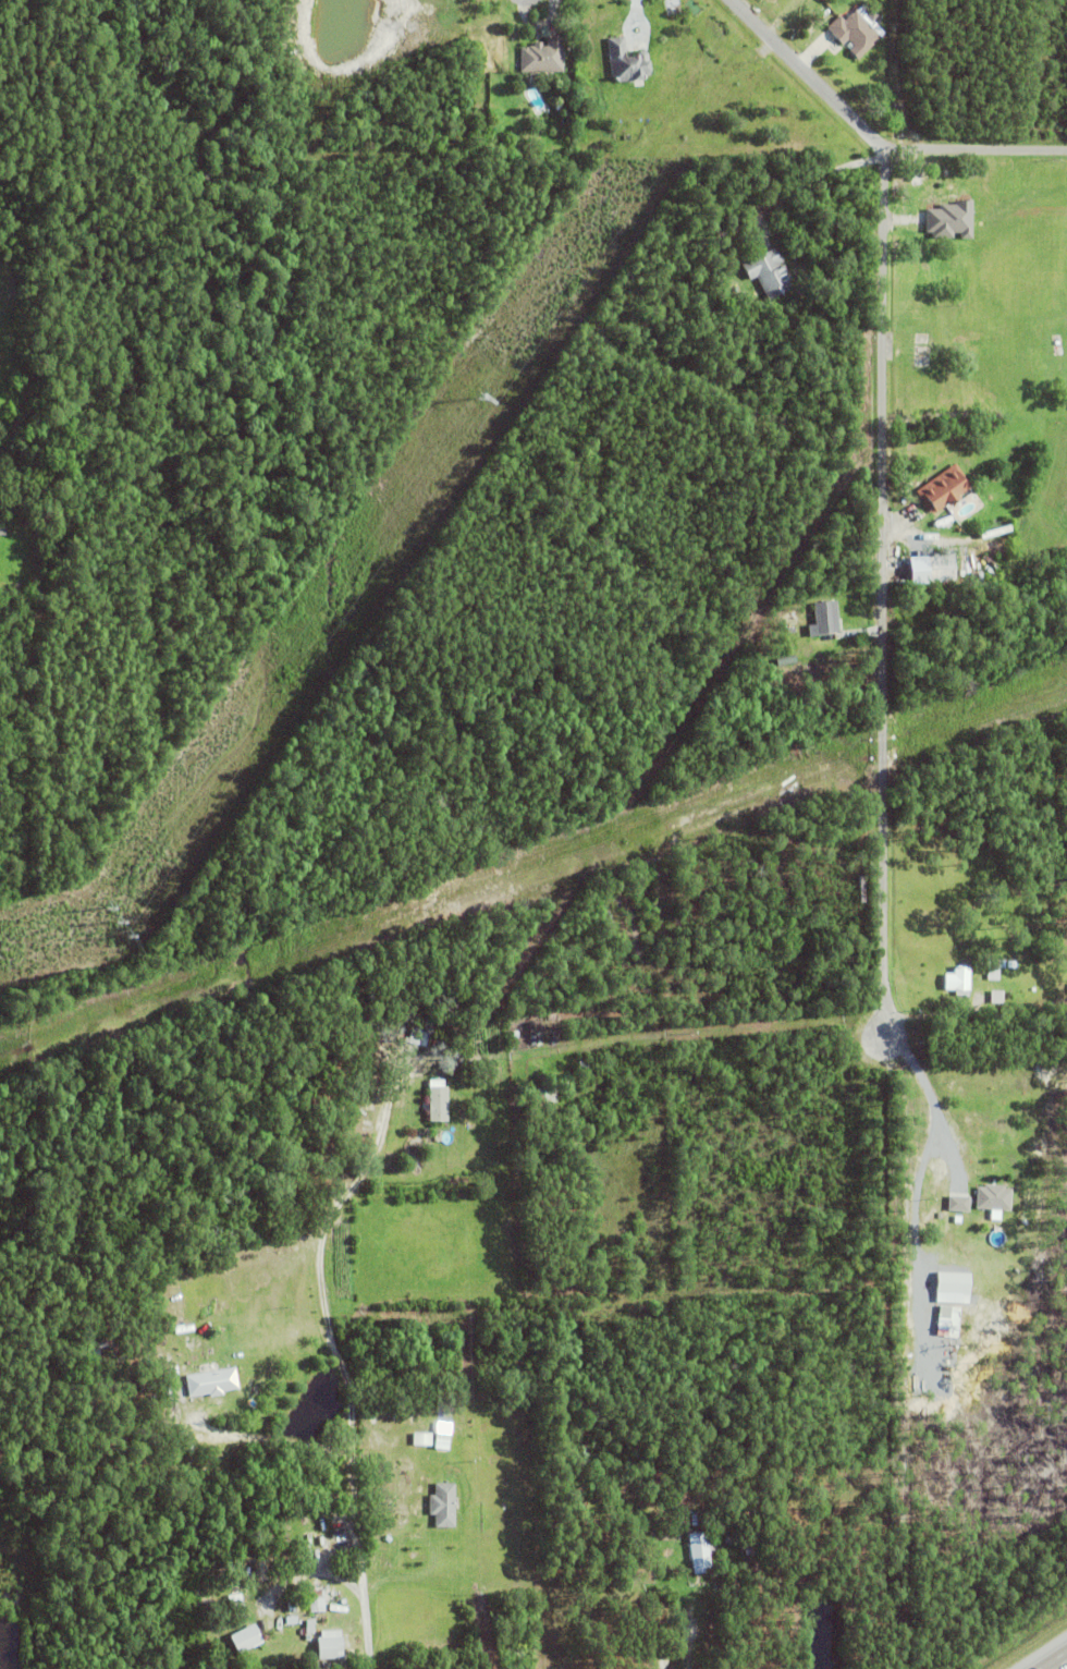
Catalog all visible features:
building: (853, 33)
building: (542, 56)
building: (626, 62)
road: (810, 80)
building: (922, 198)
building: (952, 219)
building: (921, 245)
building: (768, 273)
building: (780, 318)
power tower: (477, 402)
building: (20, 434)
building: (943, 490)
road: (882, 498)
building: (905, 511)
building: (2, 532)
building: (922, 539)
building: (940, 572)
building: (825, 619)
building: (659, 811)
building: (805, 820)
building: (635, 827)
building: (660, 840)
building: (645, 899)
power tower: (123, 923)
building: (629, 926)
building: (1011, 966)
building: (994, 970)
building: (958, 984)
building: (997, 998)
building: (347, 1027)
building: (434, 1031)
building: (417, 1036)
building: (543, 1097)
building: (437, 1107)
road: (924, 1157)
building: (1016, 1189)
building: (993, 1199)
building: (959, 1204)
building: (955, 1283)
building: (948, 1324)
road: (339, 1361)
building: (101, 1364)
building: (145, 1385)
building: (212, 1385)
building: (442, 1439)
road: (265, 1440)
building: (422, 1441)
building: (417, 1455)
building: (797, 1478)
building: (442, 1508)
building: (694, 1518)
building: (683, 1520)
building: (729, 1535)
building: (700, 1548)
building: (662, 1562)
building: (317, 1604)
building: (301, 1611)
building: (291, 1622)
building: (309, 1629)
road: (863, 1641)
building: (245, 1642)
building: (330, 1648)
road: (1053, 1659)

